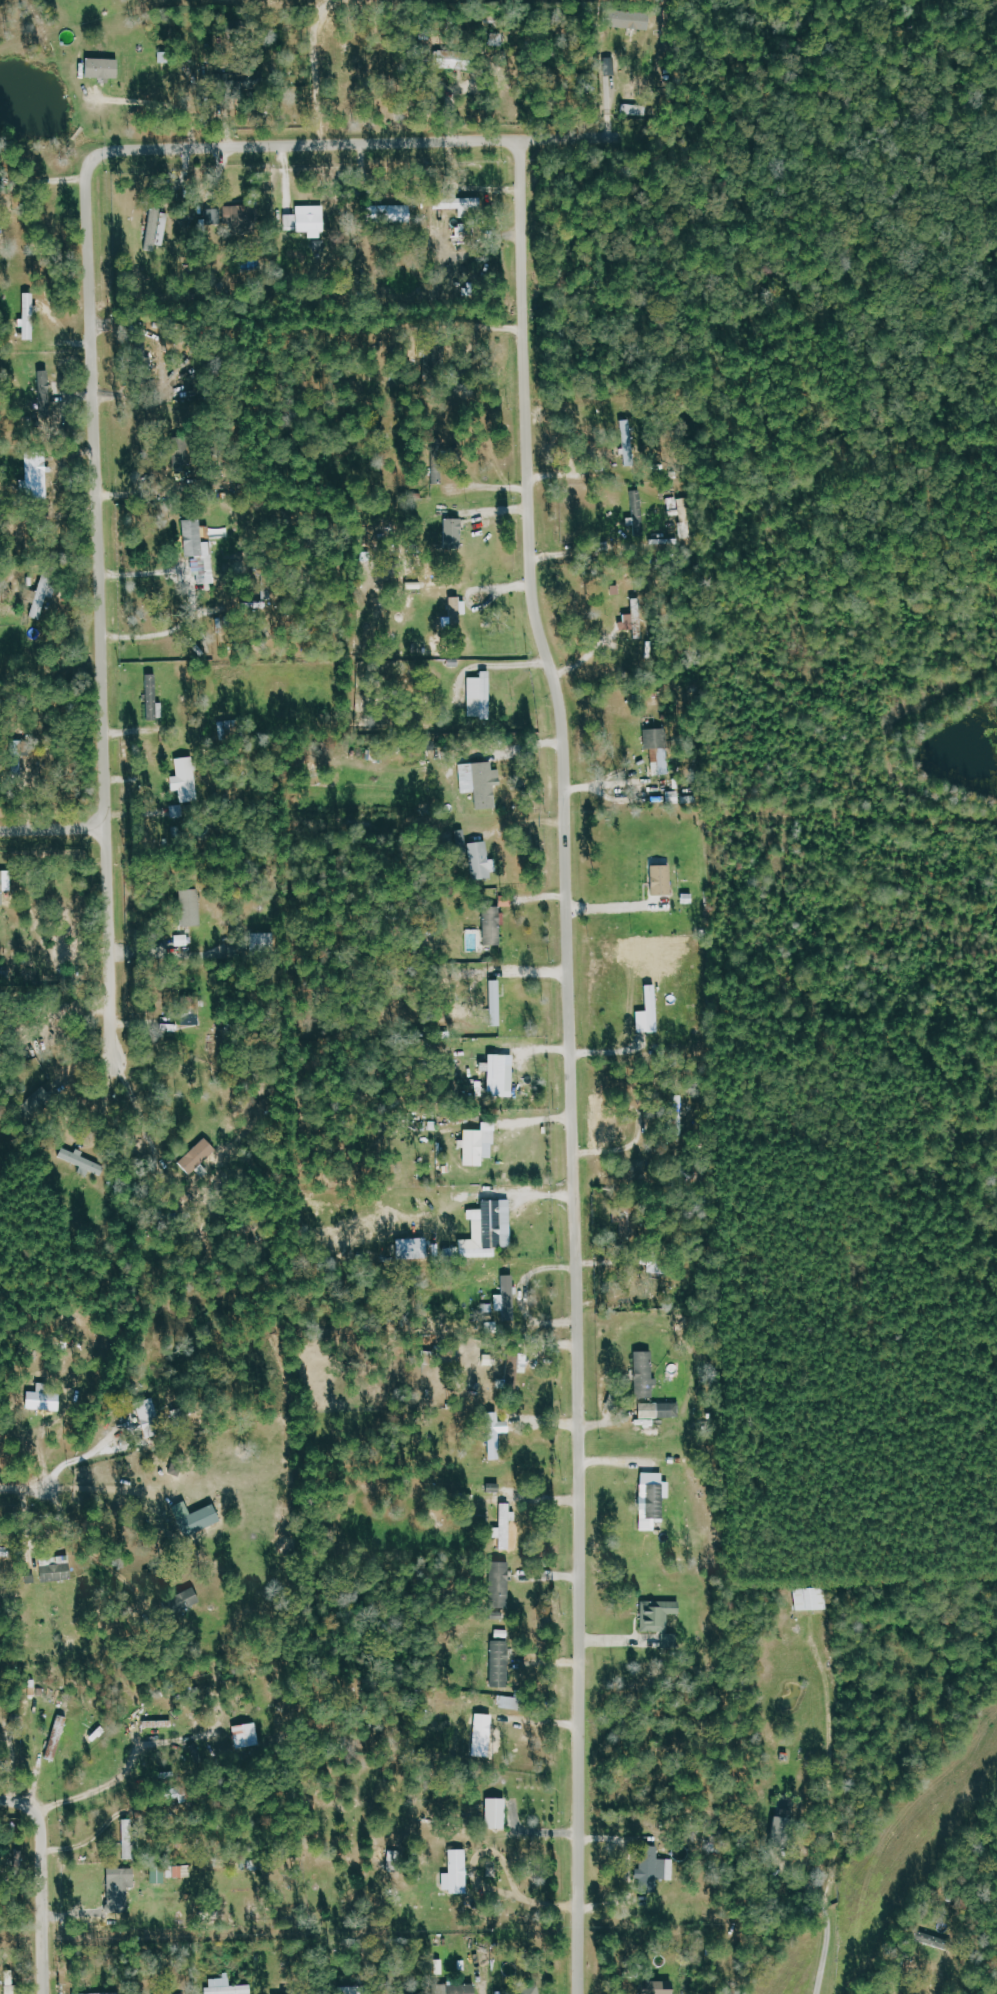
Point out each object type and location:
building: (629, 20)
building: (454, 59)
building: (105, 69)
road: (164, 102)
road: (568, 137)
road: (289, 146)
building: (468, 207)
building: (395, 215)
building: (235, 217)
building: (310, 221)
building: (161, 228)
building: (31, 318)
building: (46, 394)
building: (438, 473)
building: (39, 474)
road: (98, 525)
building: (457, 533)
building: (201, 551)
building: (46, 593)
building: (460, 610)
building: (638, 618)
building: (483, 696)
building: (152, 698)
building: (232, 728)
building: (659, 750)
building: (188, 780)
building: (483, 783)
road: (55, 828)
building: (462, 839)
building: (484, 860)
building: (665, 880)
building: (3, 888)
building: (193, 908)
building: (495, 925)
building: (266, 942)
road: (112, 945)
building: (497, 995)
road: (62, 1017)
building: (193, 1018)
building: (501, 1076)
road: (572, 1082)
road: (138, 1108)
road: (69, 1128)
building: (480, 1147)
building: (199, 1157)
building: (85, 1162)
building: (491, 1230)
building: (417, 1249)
building: (509, 1298)
building: (516, 1368)
building: (648, 1375)
building: (47, 1399)
building: (663, 1411)
building: (154, 1422)
road: (26, 1486)
road: (115, 1489)
building: (199, 1519)
building: (507, 1526)
building: (7, 1551)
building: (58, 1569)
building: (504, 1585)
building: (186, 1601)
building: (660, 1615)
building: (502, 1664)
building: (514, 1703)
building: (485, 1733)
building: (249, 1736)
building: (58, 1738)
road: (127, 1767)
building: (499, 1814)
road: (832, 1817)
building: (786, 1829)
road: (95, 1837)
building: (131, 1840)
building: (396, 1861)
building: (656, 1867)
building: (459, 1874)
building: (161, 1875)
road: (44, 1881)
building: (125, 1889)
building: (925, 1938)
building: (228, 1987)
building: (663, 1988)
building: (14, 1989)
building: (358, 1990)
building: (464, 1990)
building: (532, 1990)

